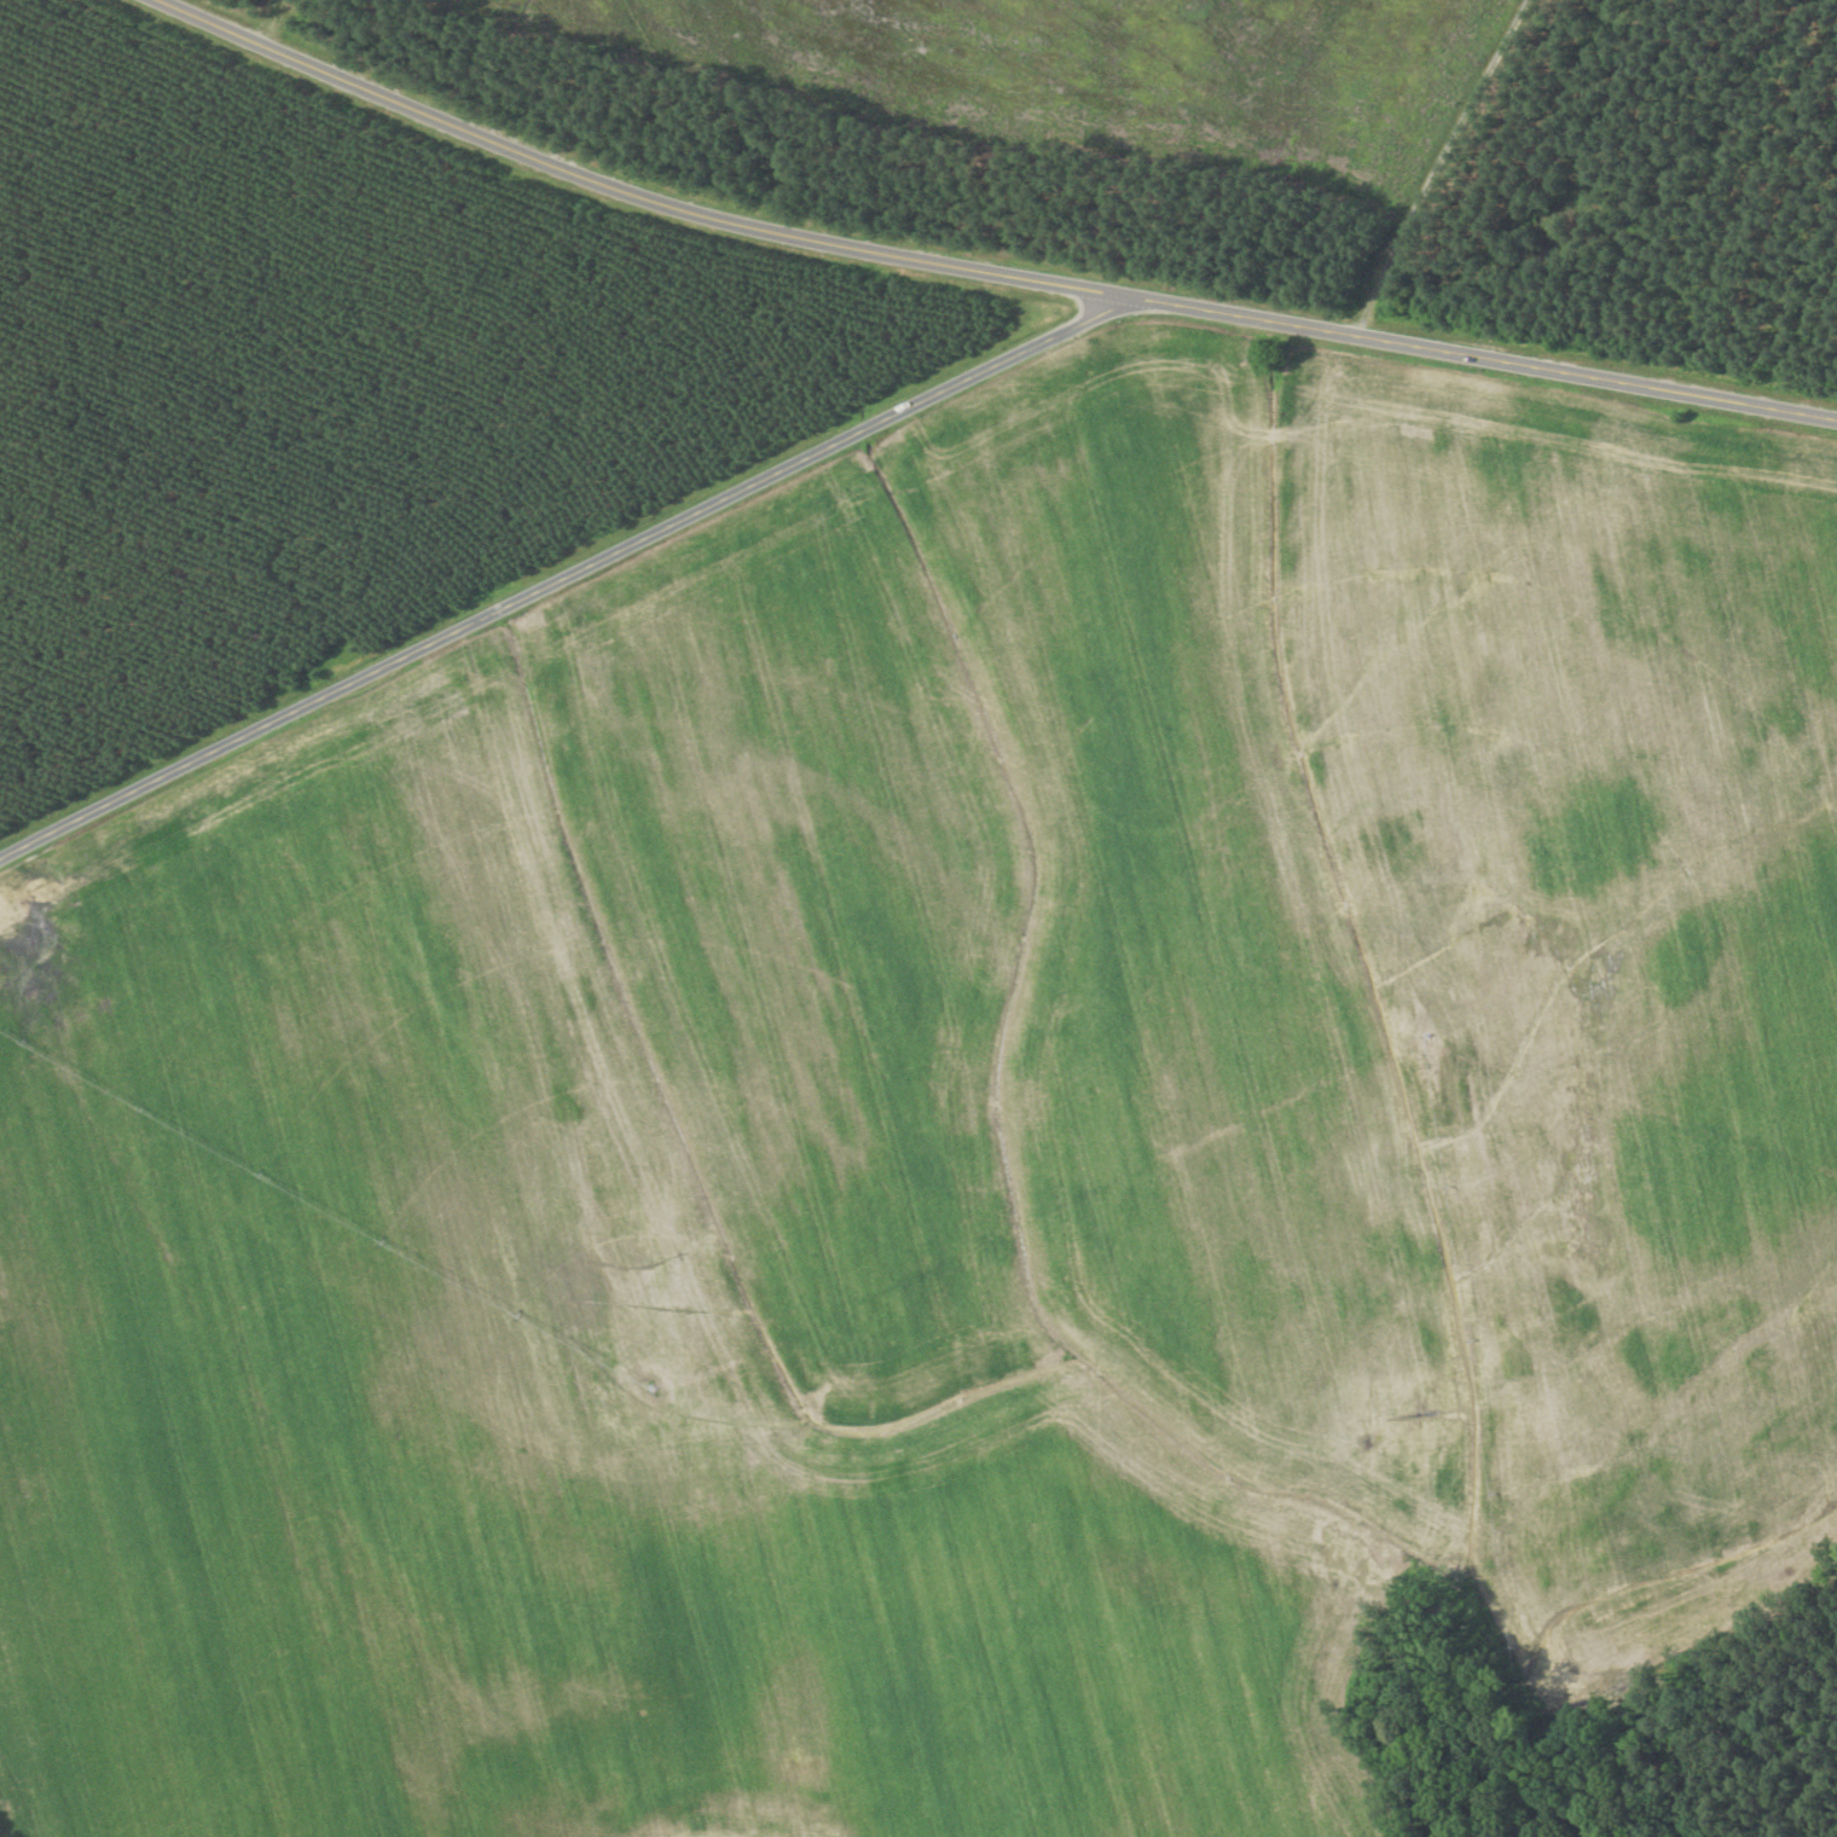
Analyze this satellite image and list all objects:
road: (957, 278)
road: (552, 581)

